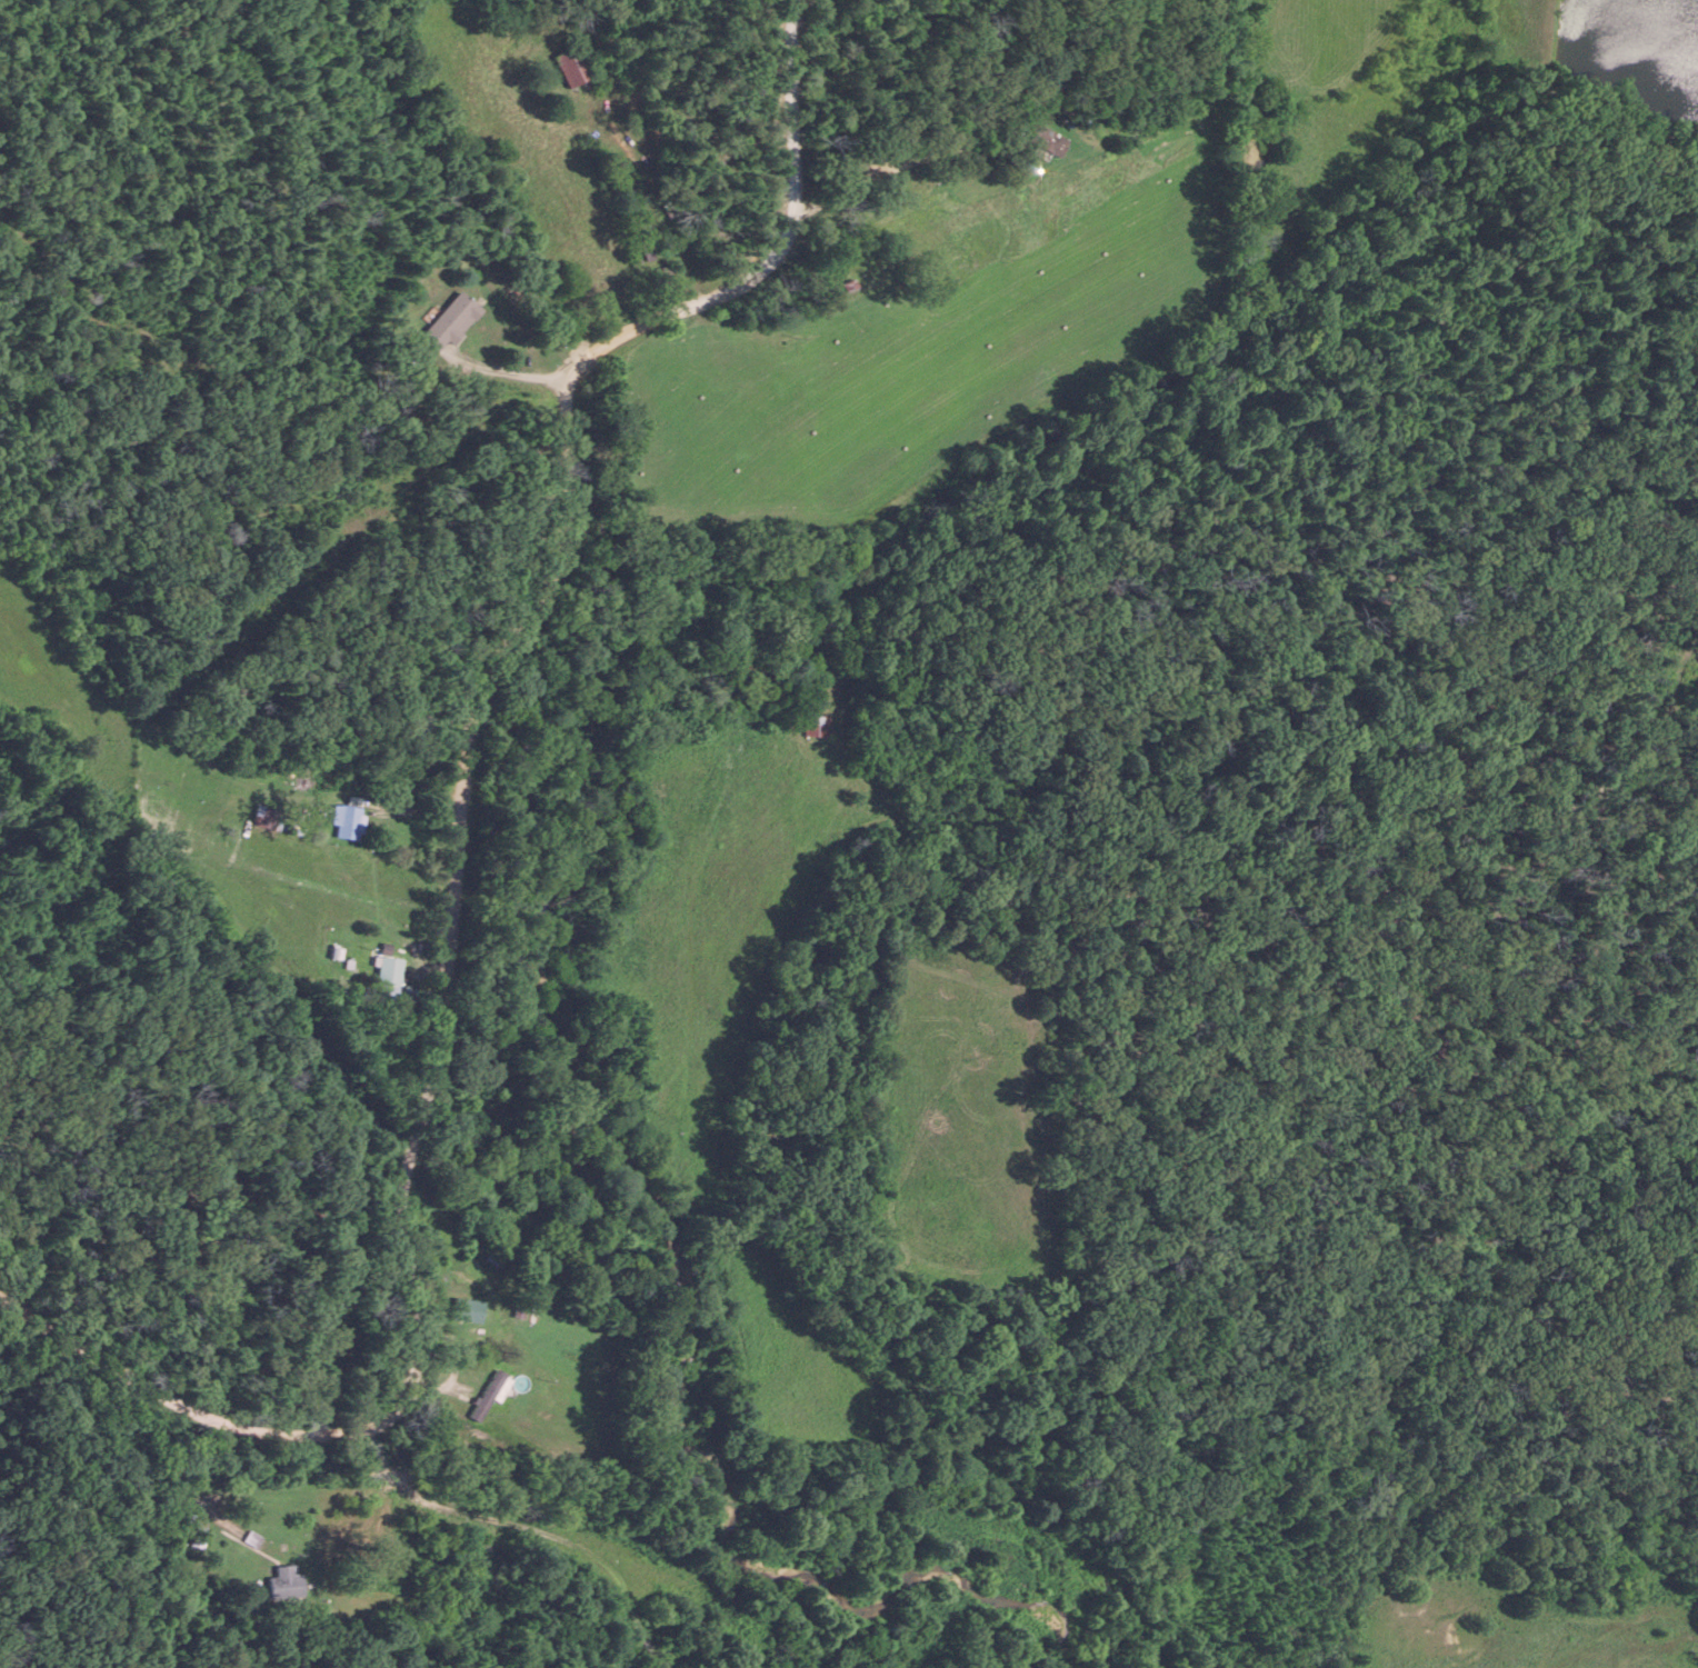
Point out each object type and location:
building: (571, 66)
building: (1039, 141)
road: (891, 167)
road: (655, 196)
building: (661, 279)
building: (440, 323)
road: (511, 373)
road: (1696, 595)
building: (817, 727)
building: (344, 822)
road: (458, 853)
building: (386, 979)
building: (472, 1320)
building: (486, 1397)
building: (196, 1538)
building: (283, 1584)

